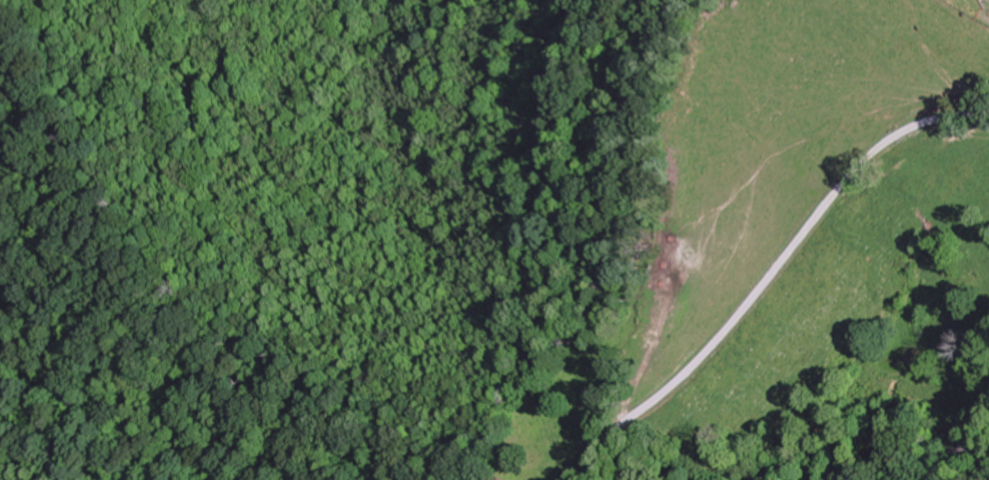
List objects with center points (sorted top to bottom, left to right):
road: (773, 271)

